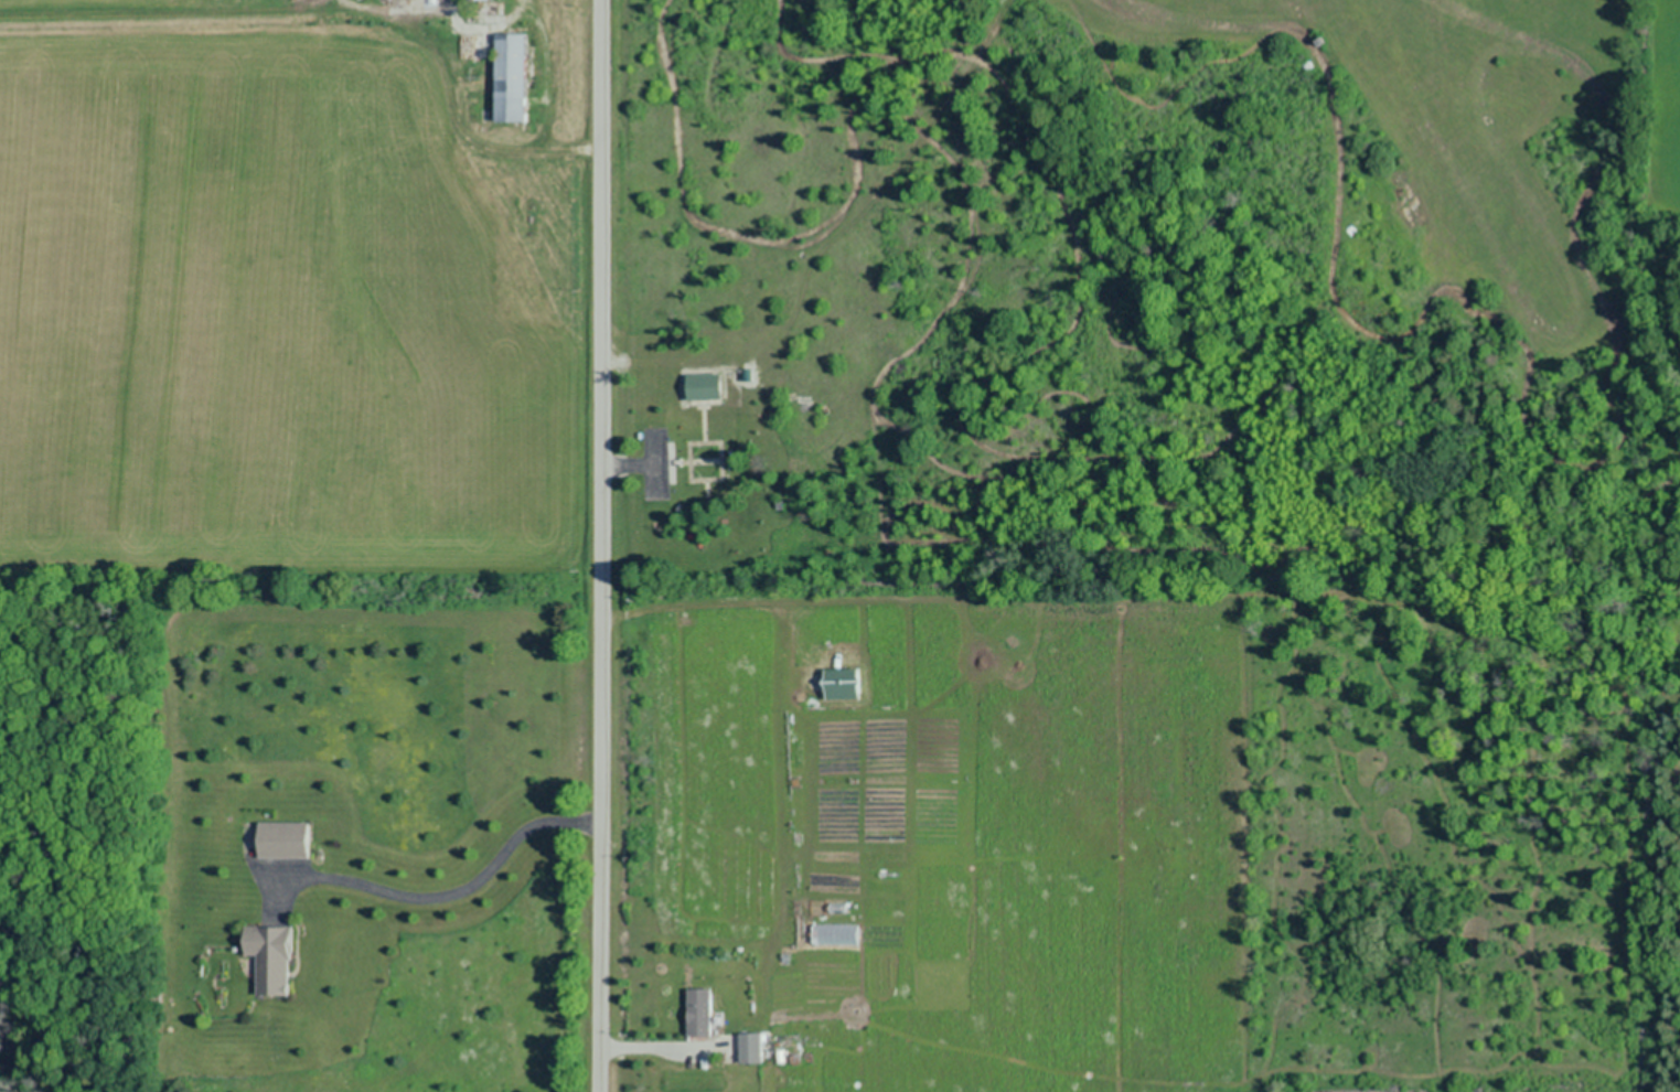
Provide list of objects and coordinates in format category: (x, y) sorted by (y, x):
building: (514, 76)
park: (1370, 153)
building: (707, 386)
park: (716, 461)
road: (602, 546)
building: (846, 684)
building: (288, 839)
building: (275, 959)
building: (700, 1013)
building: (752, 1048)

